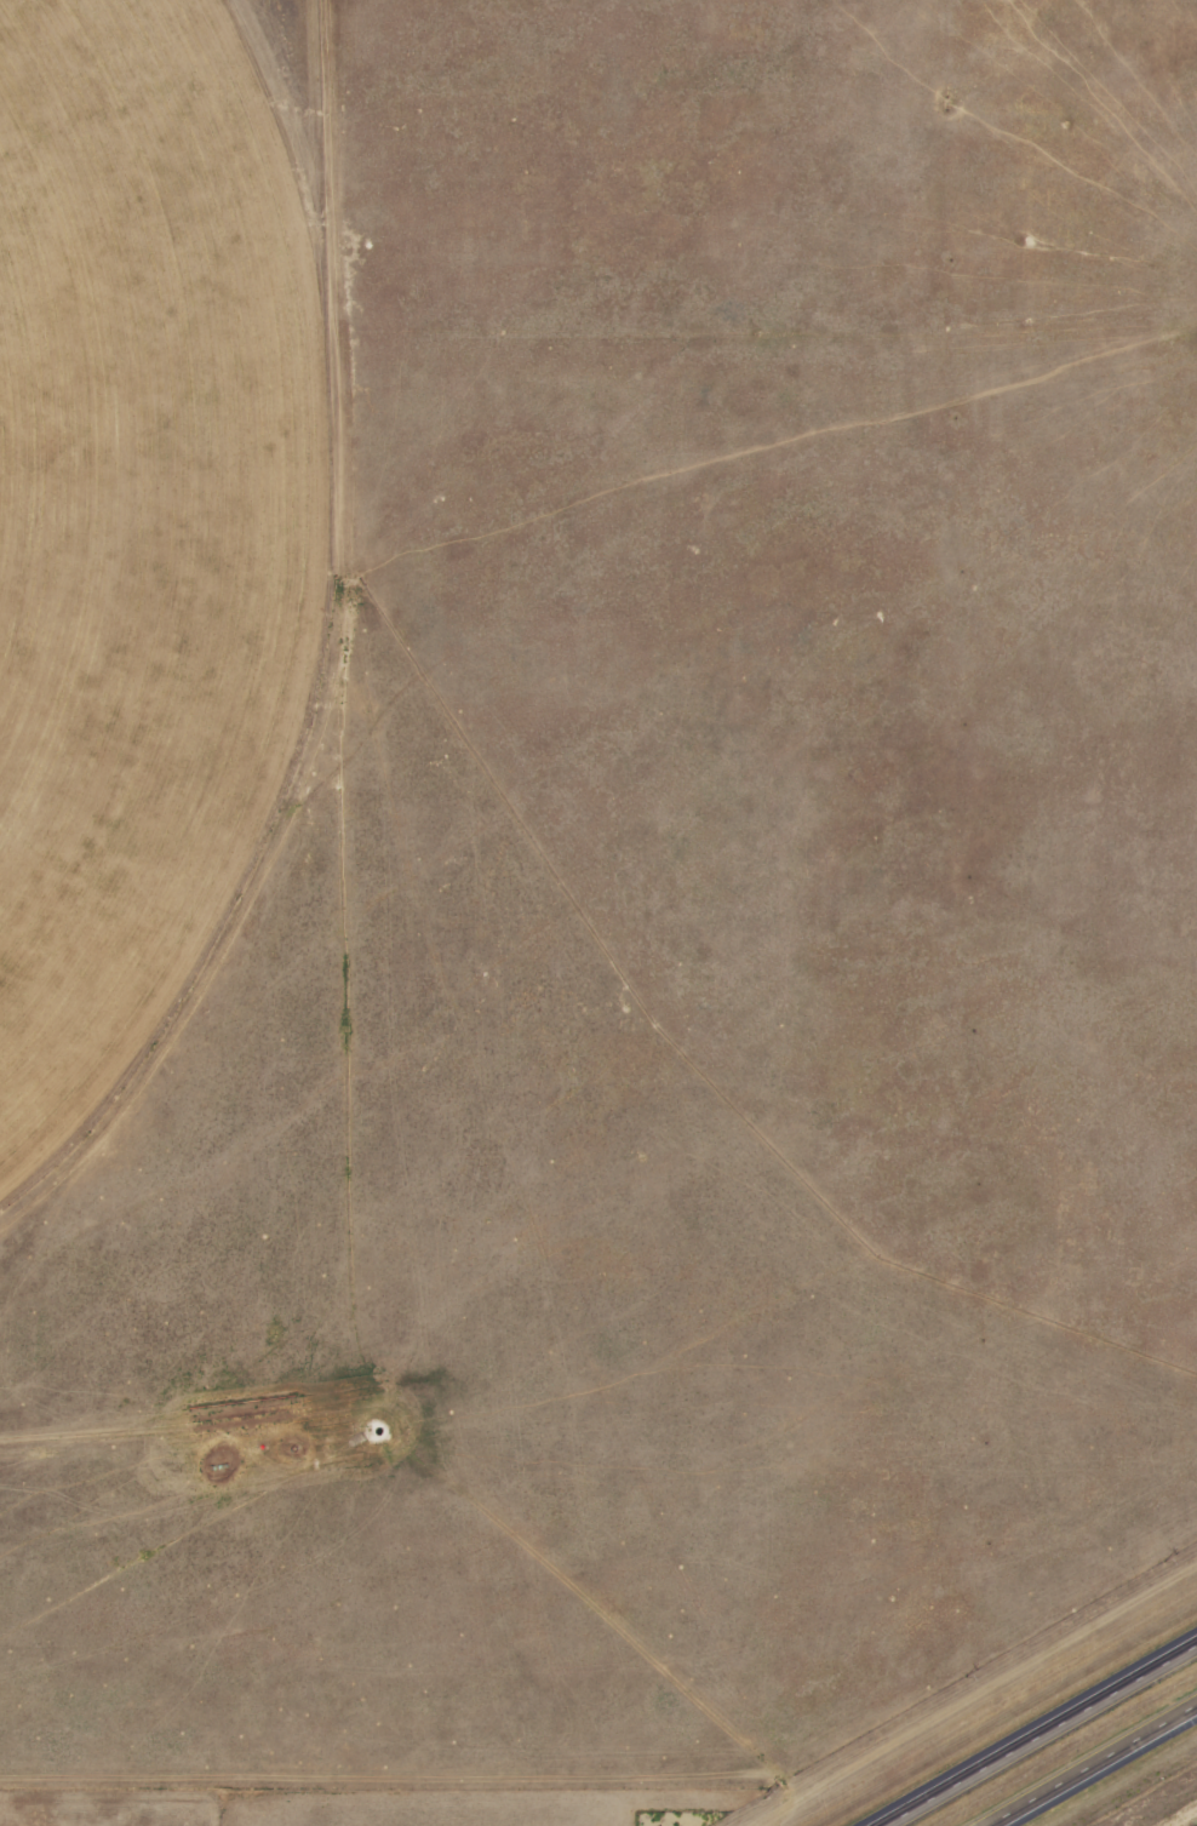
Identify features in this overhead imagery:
road: (1039, 1736)
road: (1096, 1768)

